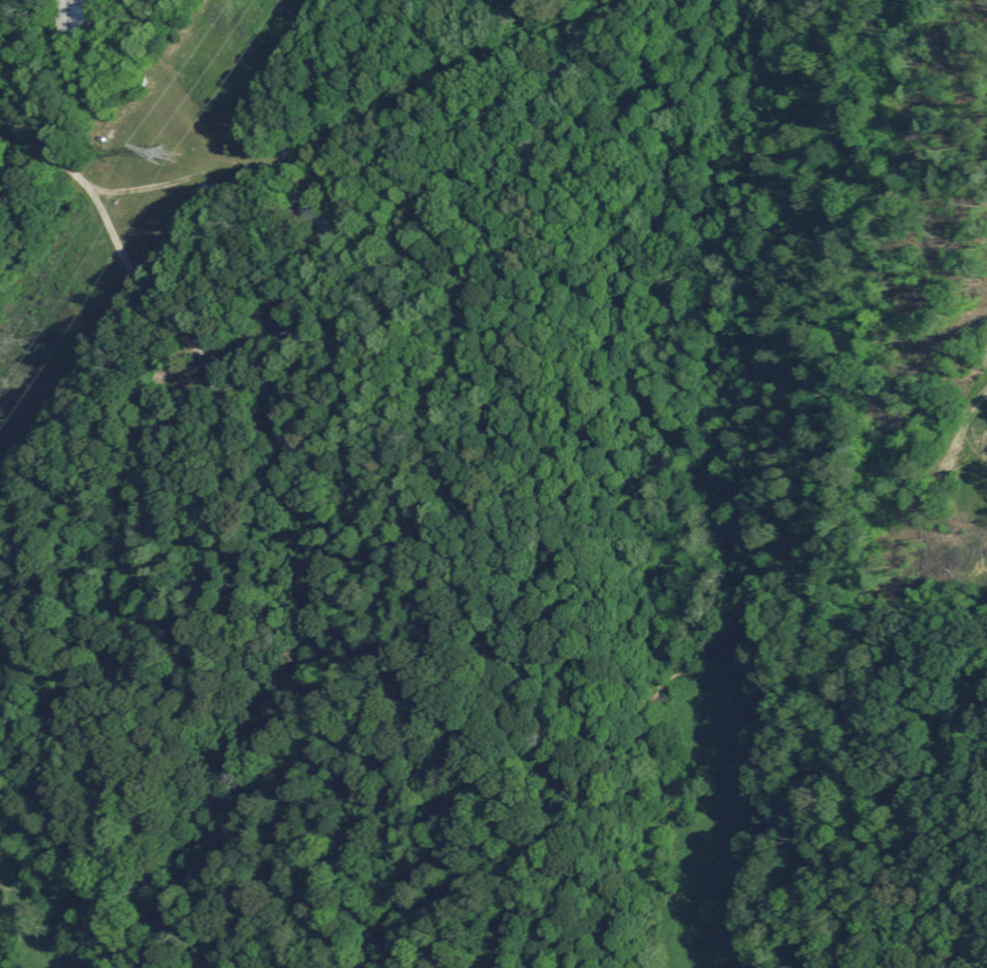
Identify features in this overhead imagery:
building: (70, 13)
power tower: (168, 151)
road: (96, 203)
road: (190, 368)

